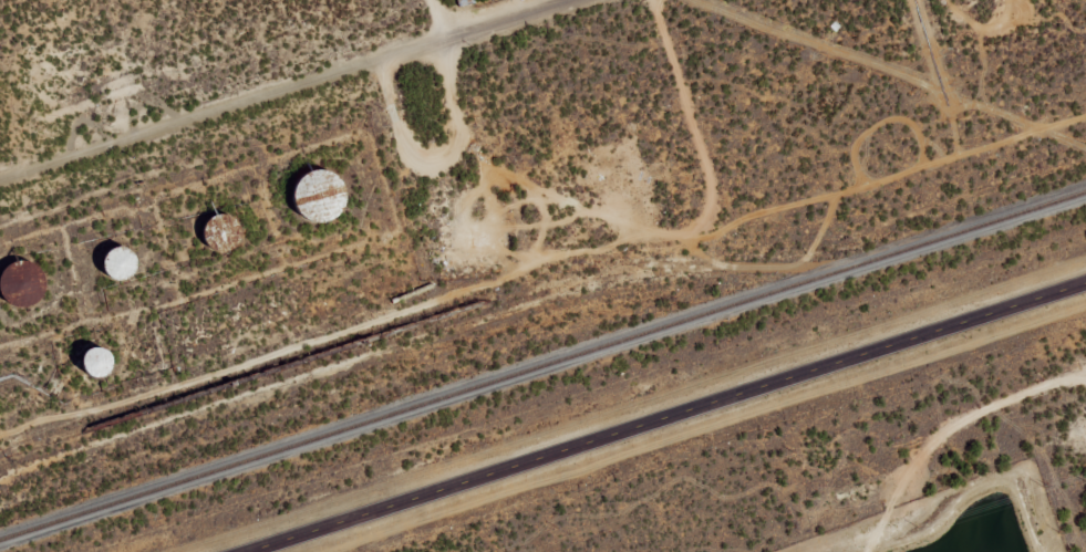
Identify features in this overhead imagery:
road: (291, 90)
road: (465, 105)
building: (316, 198)
storage tank: (316, 198)
building: (221, 233)
storage tank: (221, 233)
building: (118, 264)
storage tank: (118, 264)
building: (19, 283)
storage tank: (19, 283)
building: (96, 362)
storage tank: (96, 362)
building: (108, 364)
railway: (542, 366)
road: (668, 417)
wastewater plant: (952, 519)

